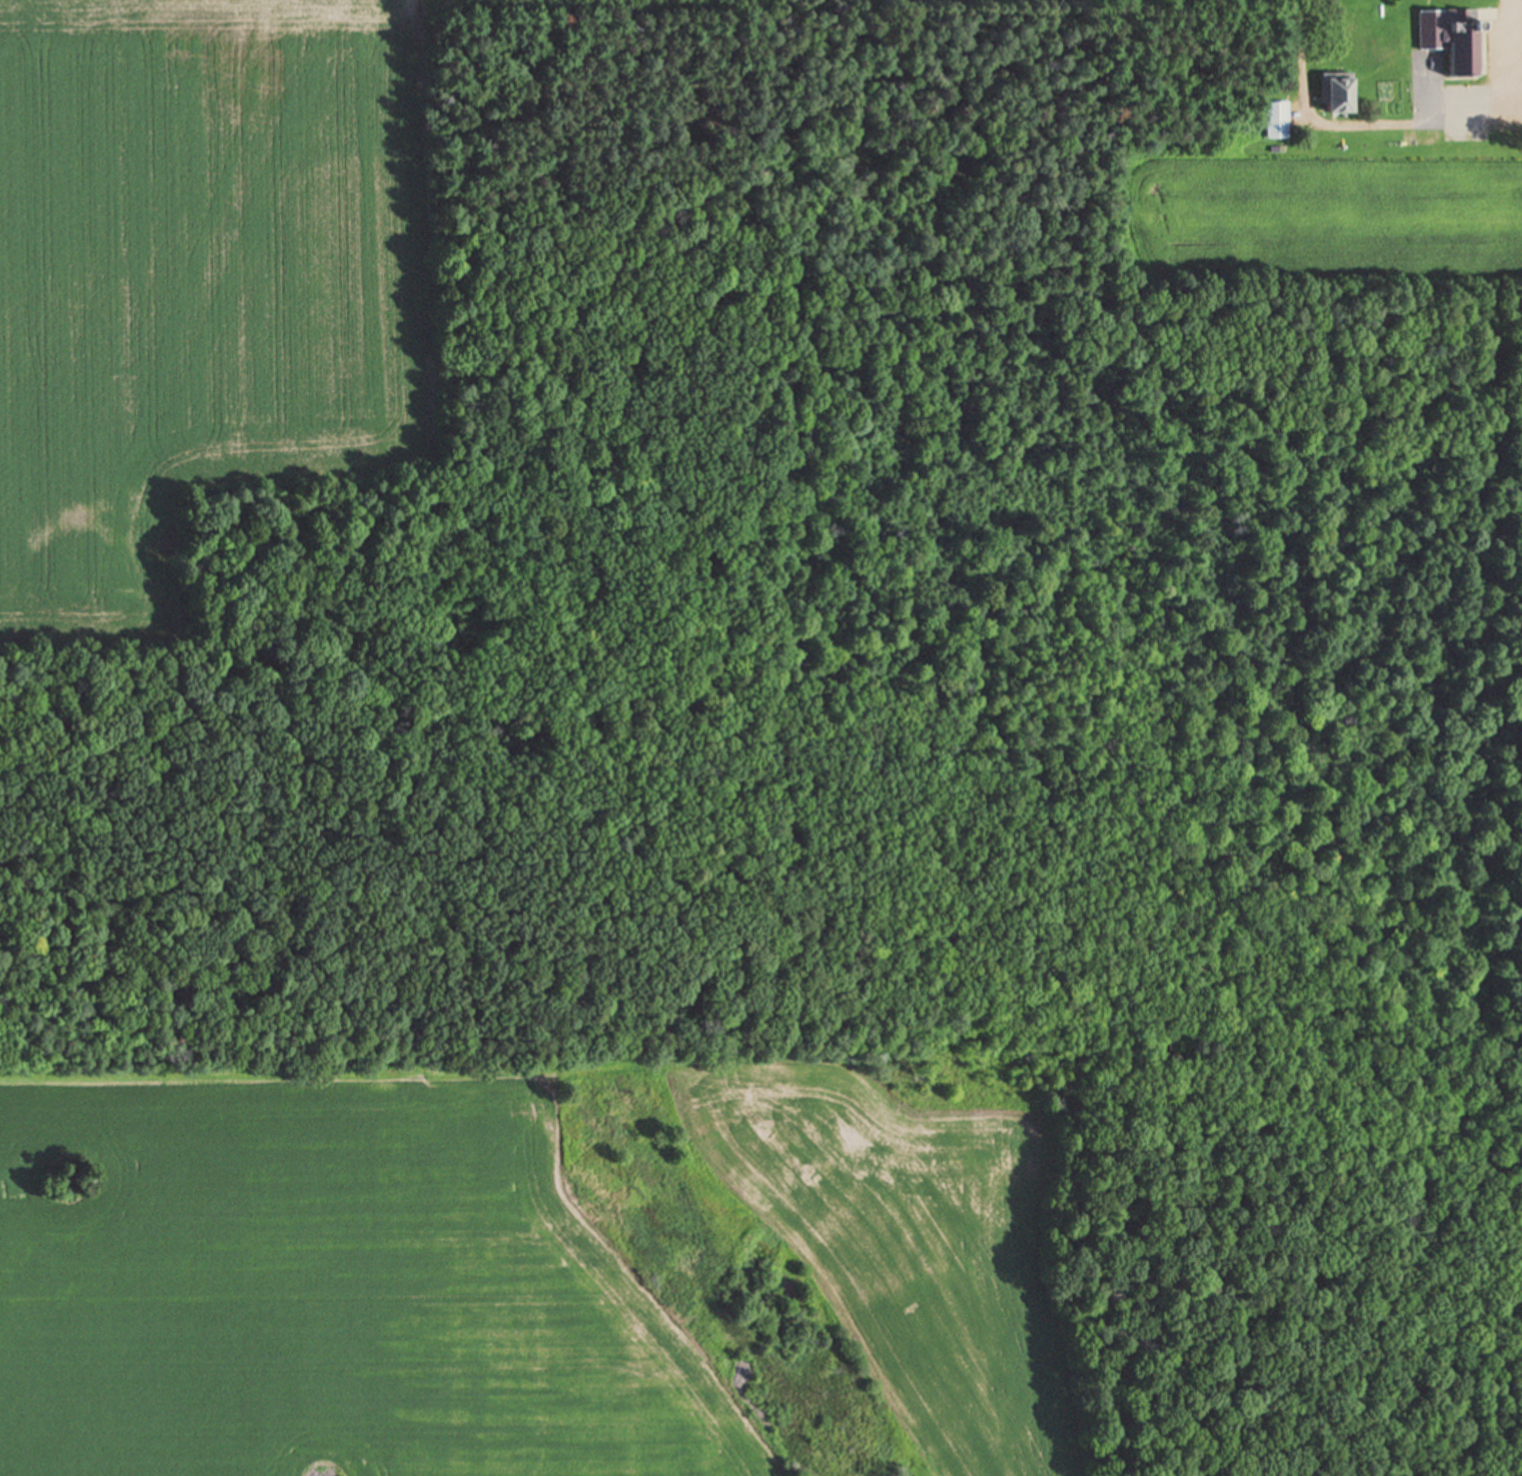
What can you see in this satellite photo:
building: (1449, 38)
building: (1335, 95)
building: (1276, 121)

